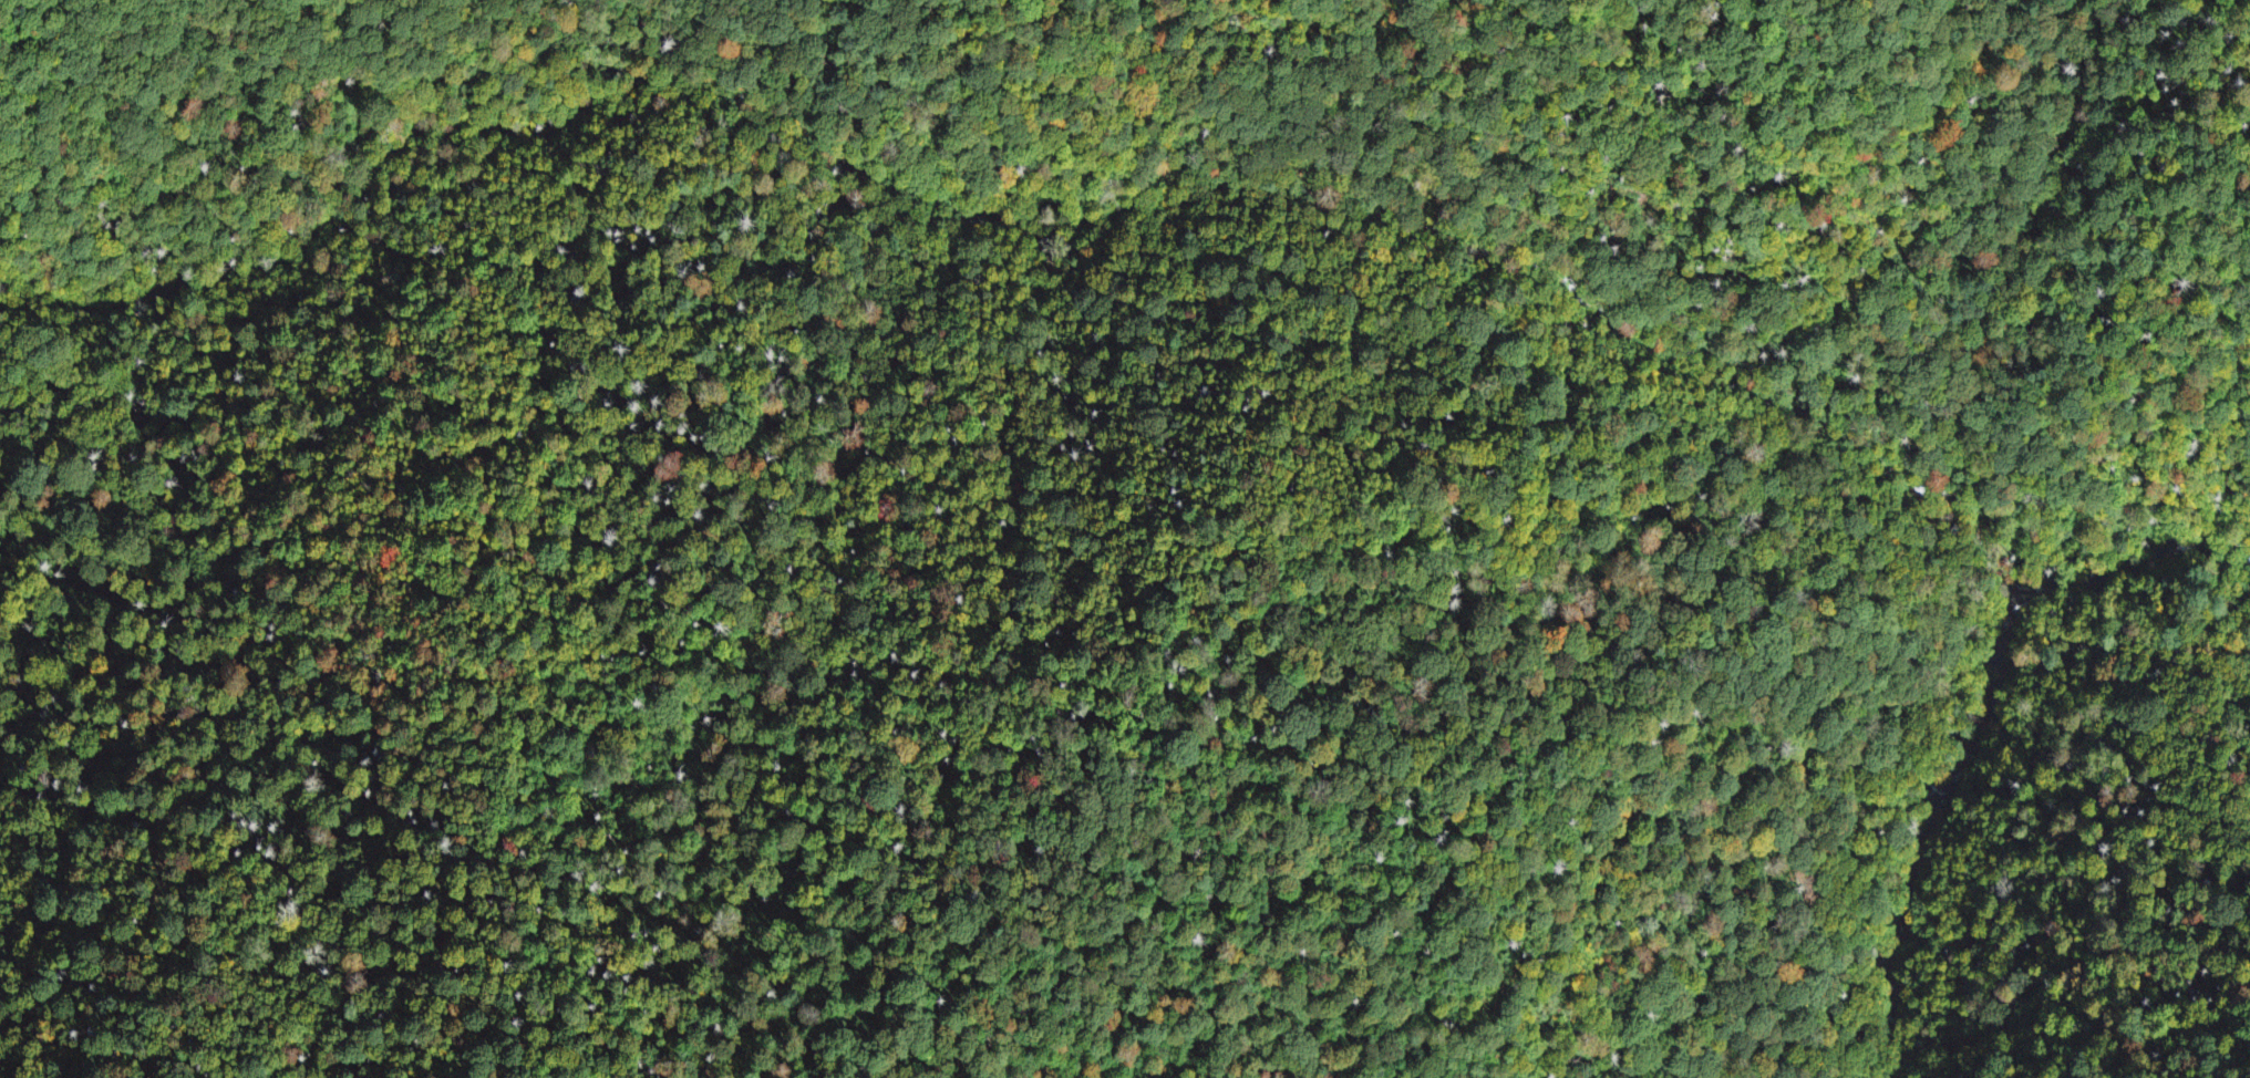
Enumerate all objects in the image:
road: (1043, 180)
river: (2138, 572)
road: (2161, 604)
road: (2004, 644)
road: (2051, 650)
river: (1906, 820)
road: (1961, 849)

